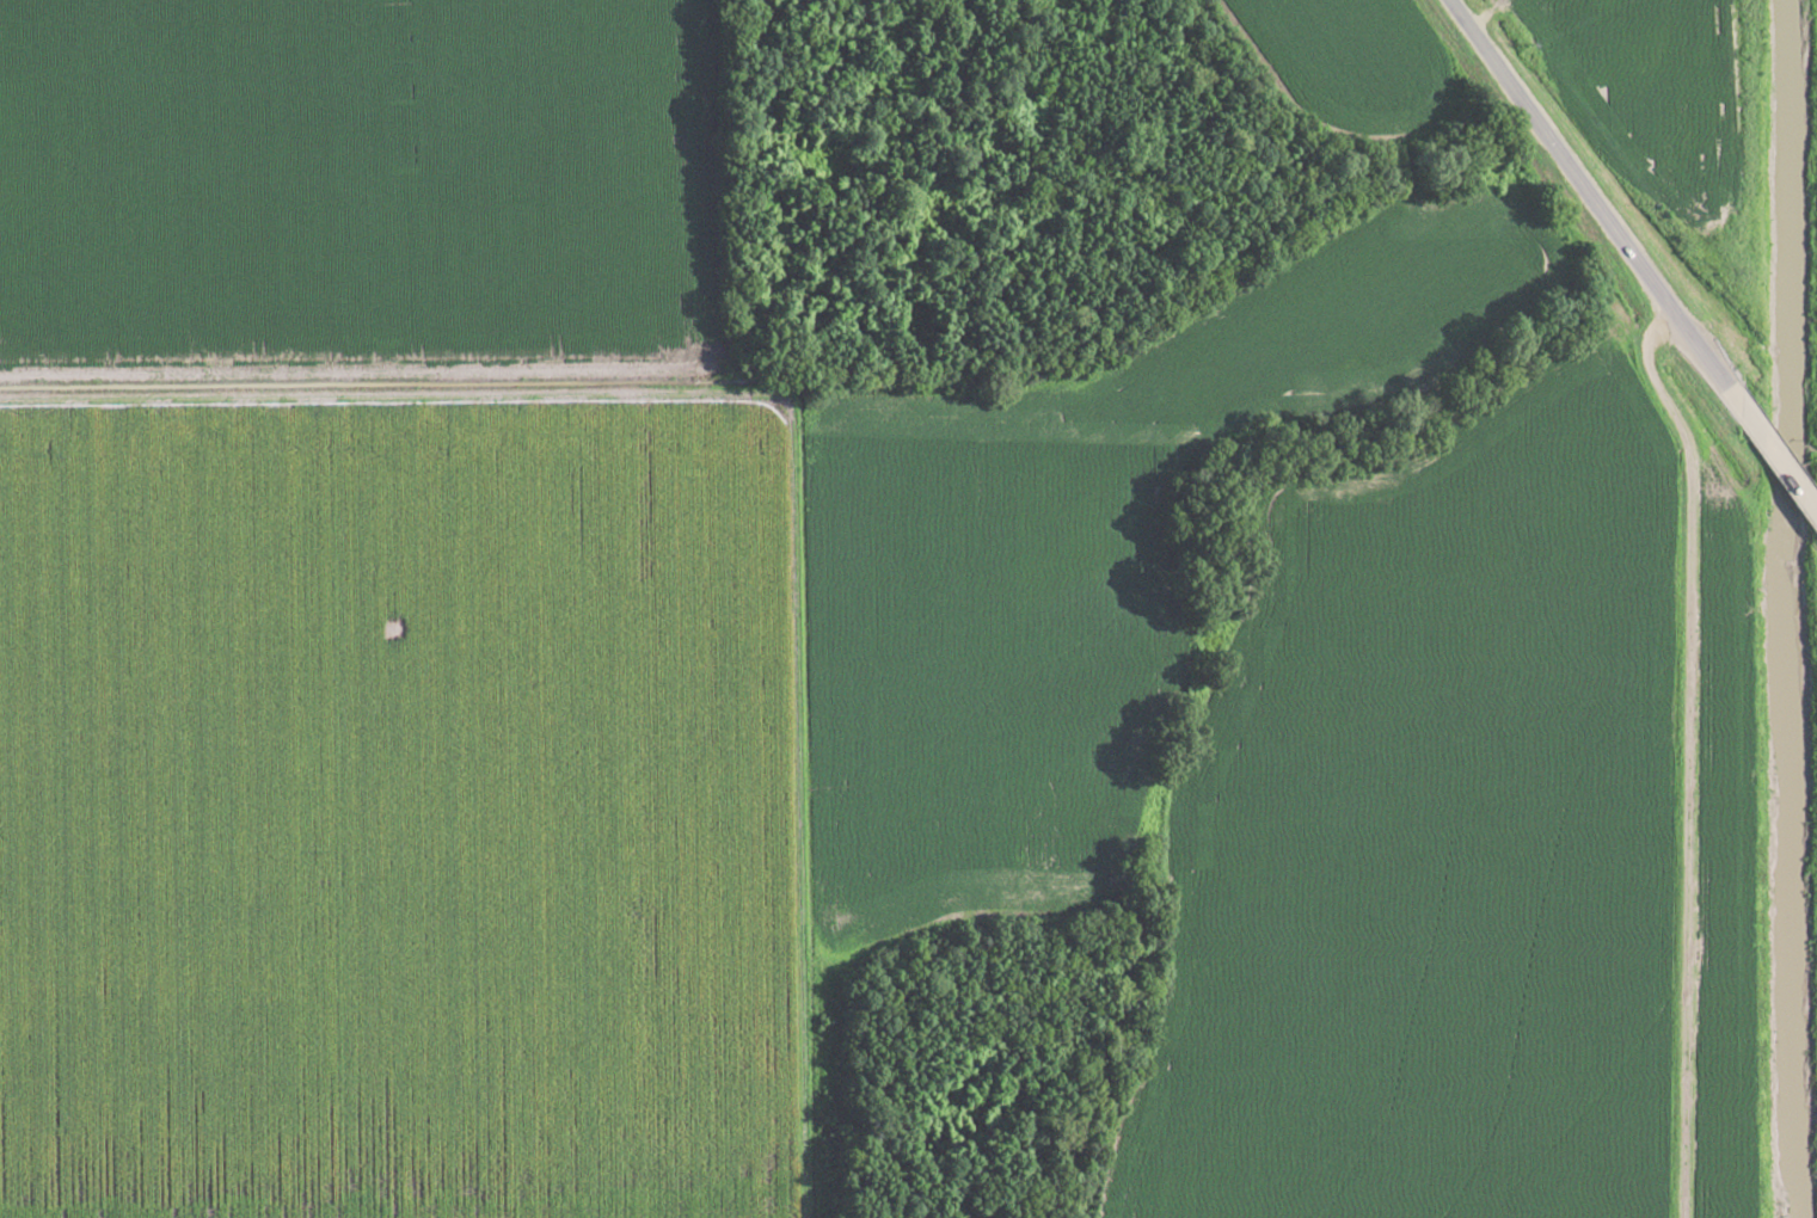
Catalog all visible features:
road: (1631, 258)
road: (779, 426)
road: (1684, 753)

